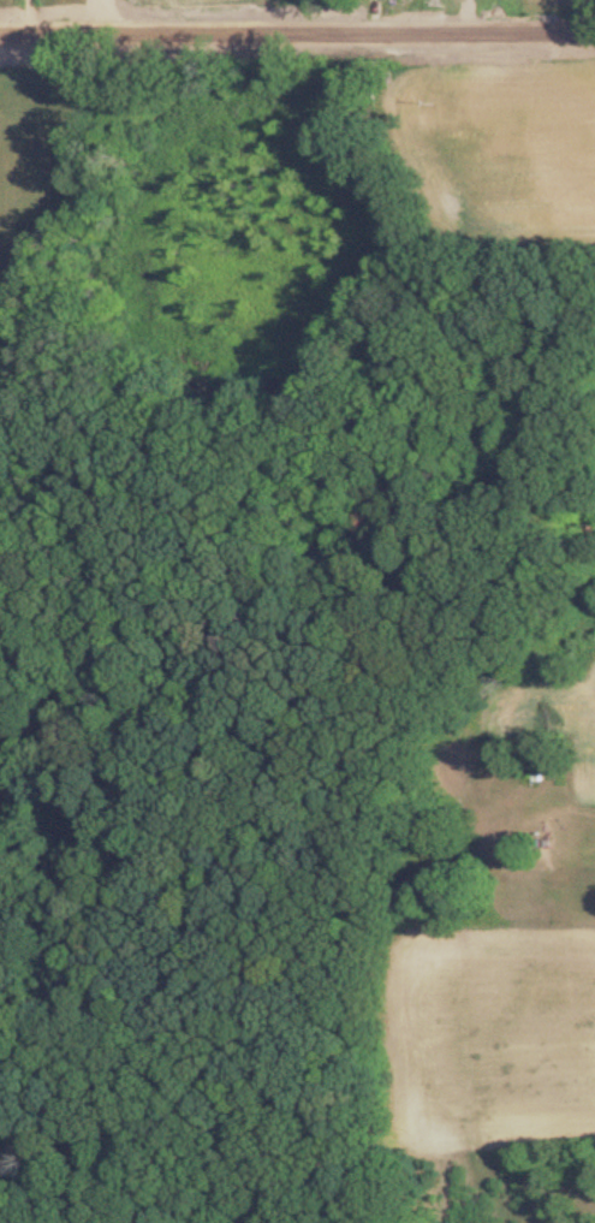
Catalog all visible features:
road: (30, 13)
road: (297, 28)

